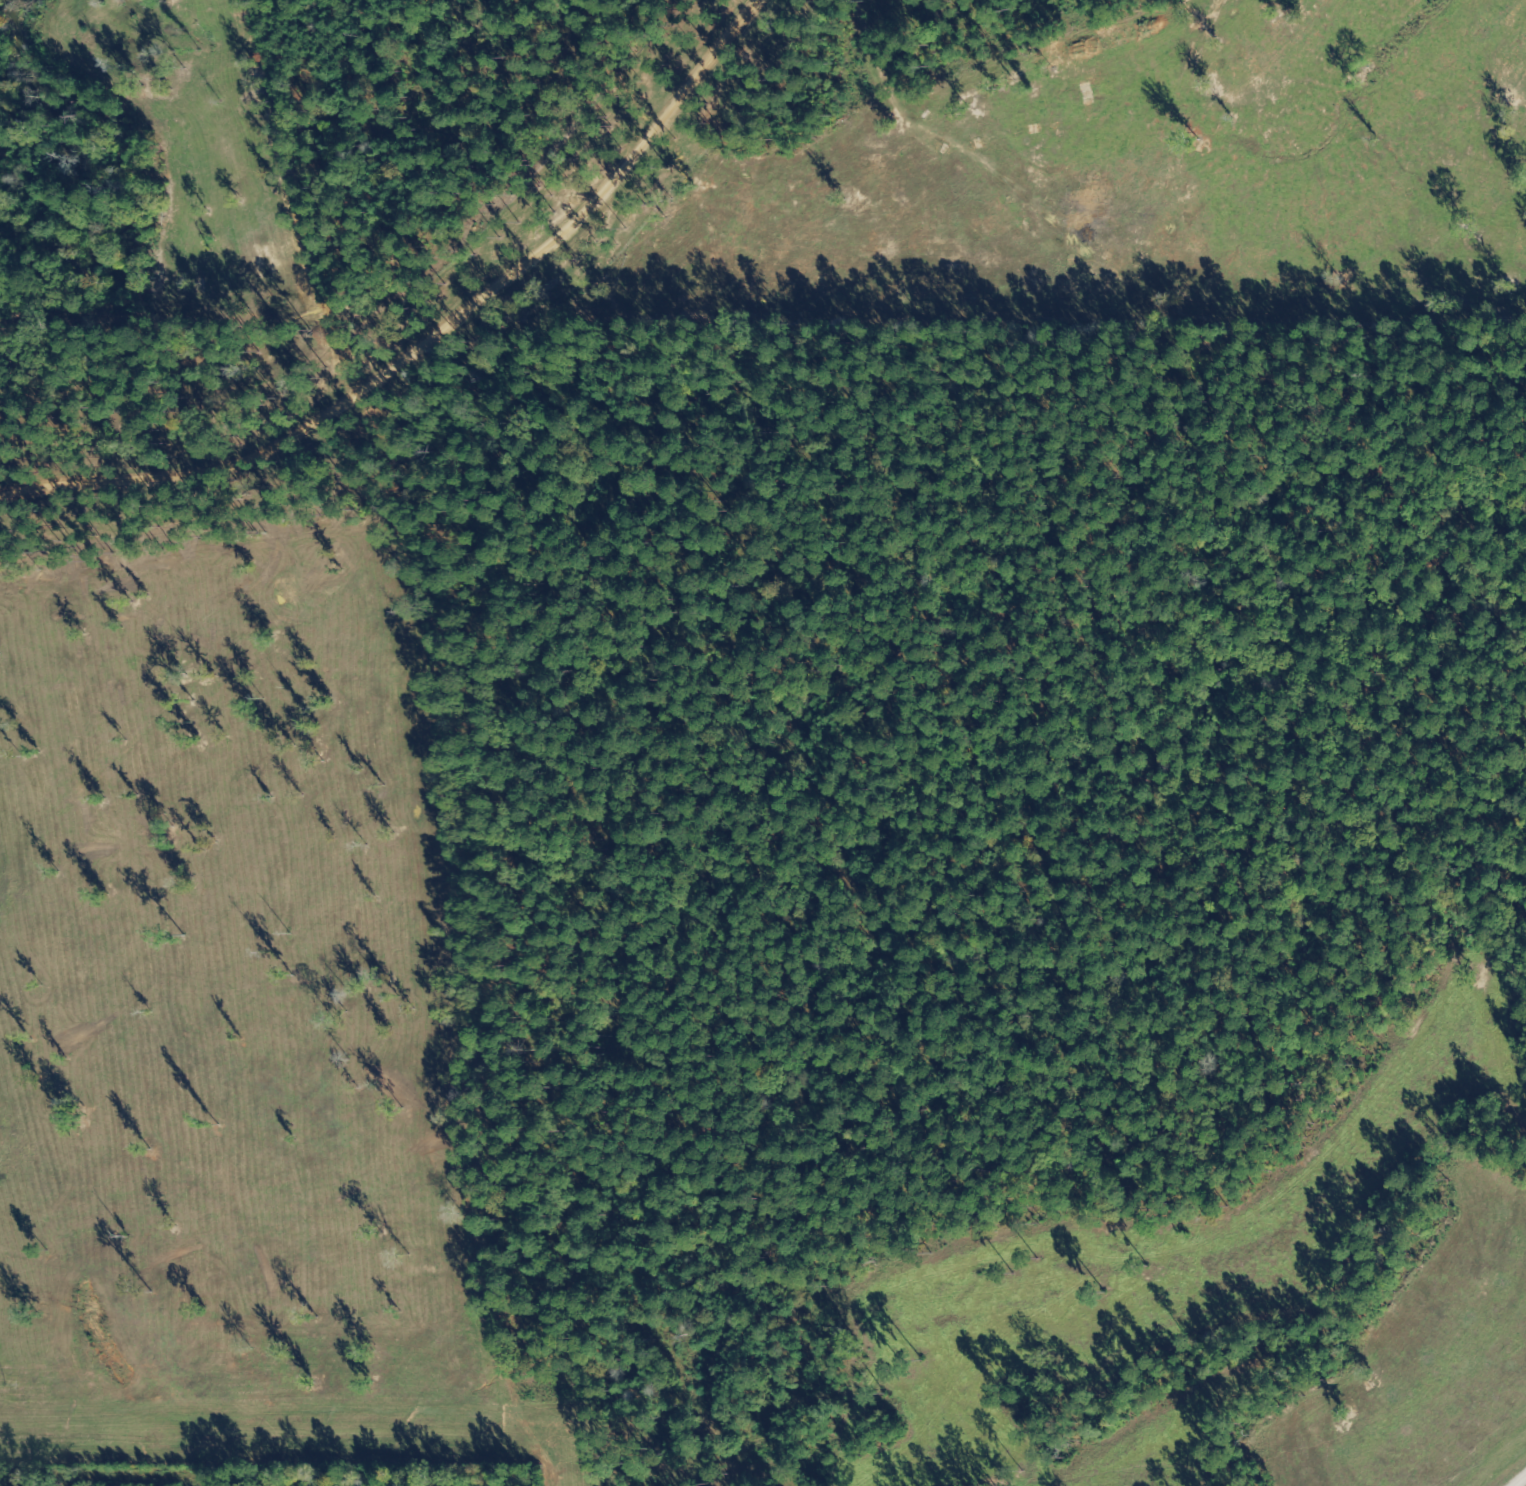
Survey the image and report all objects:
road: (430, 334)
road: (1506, 1470)

